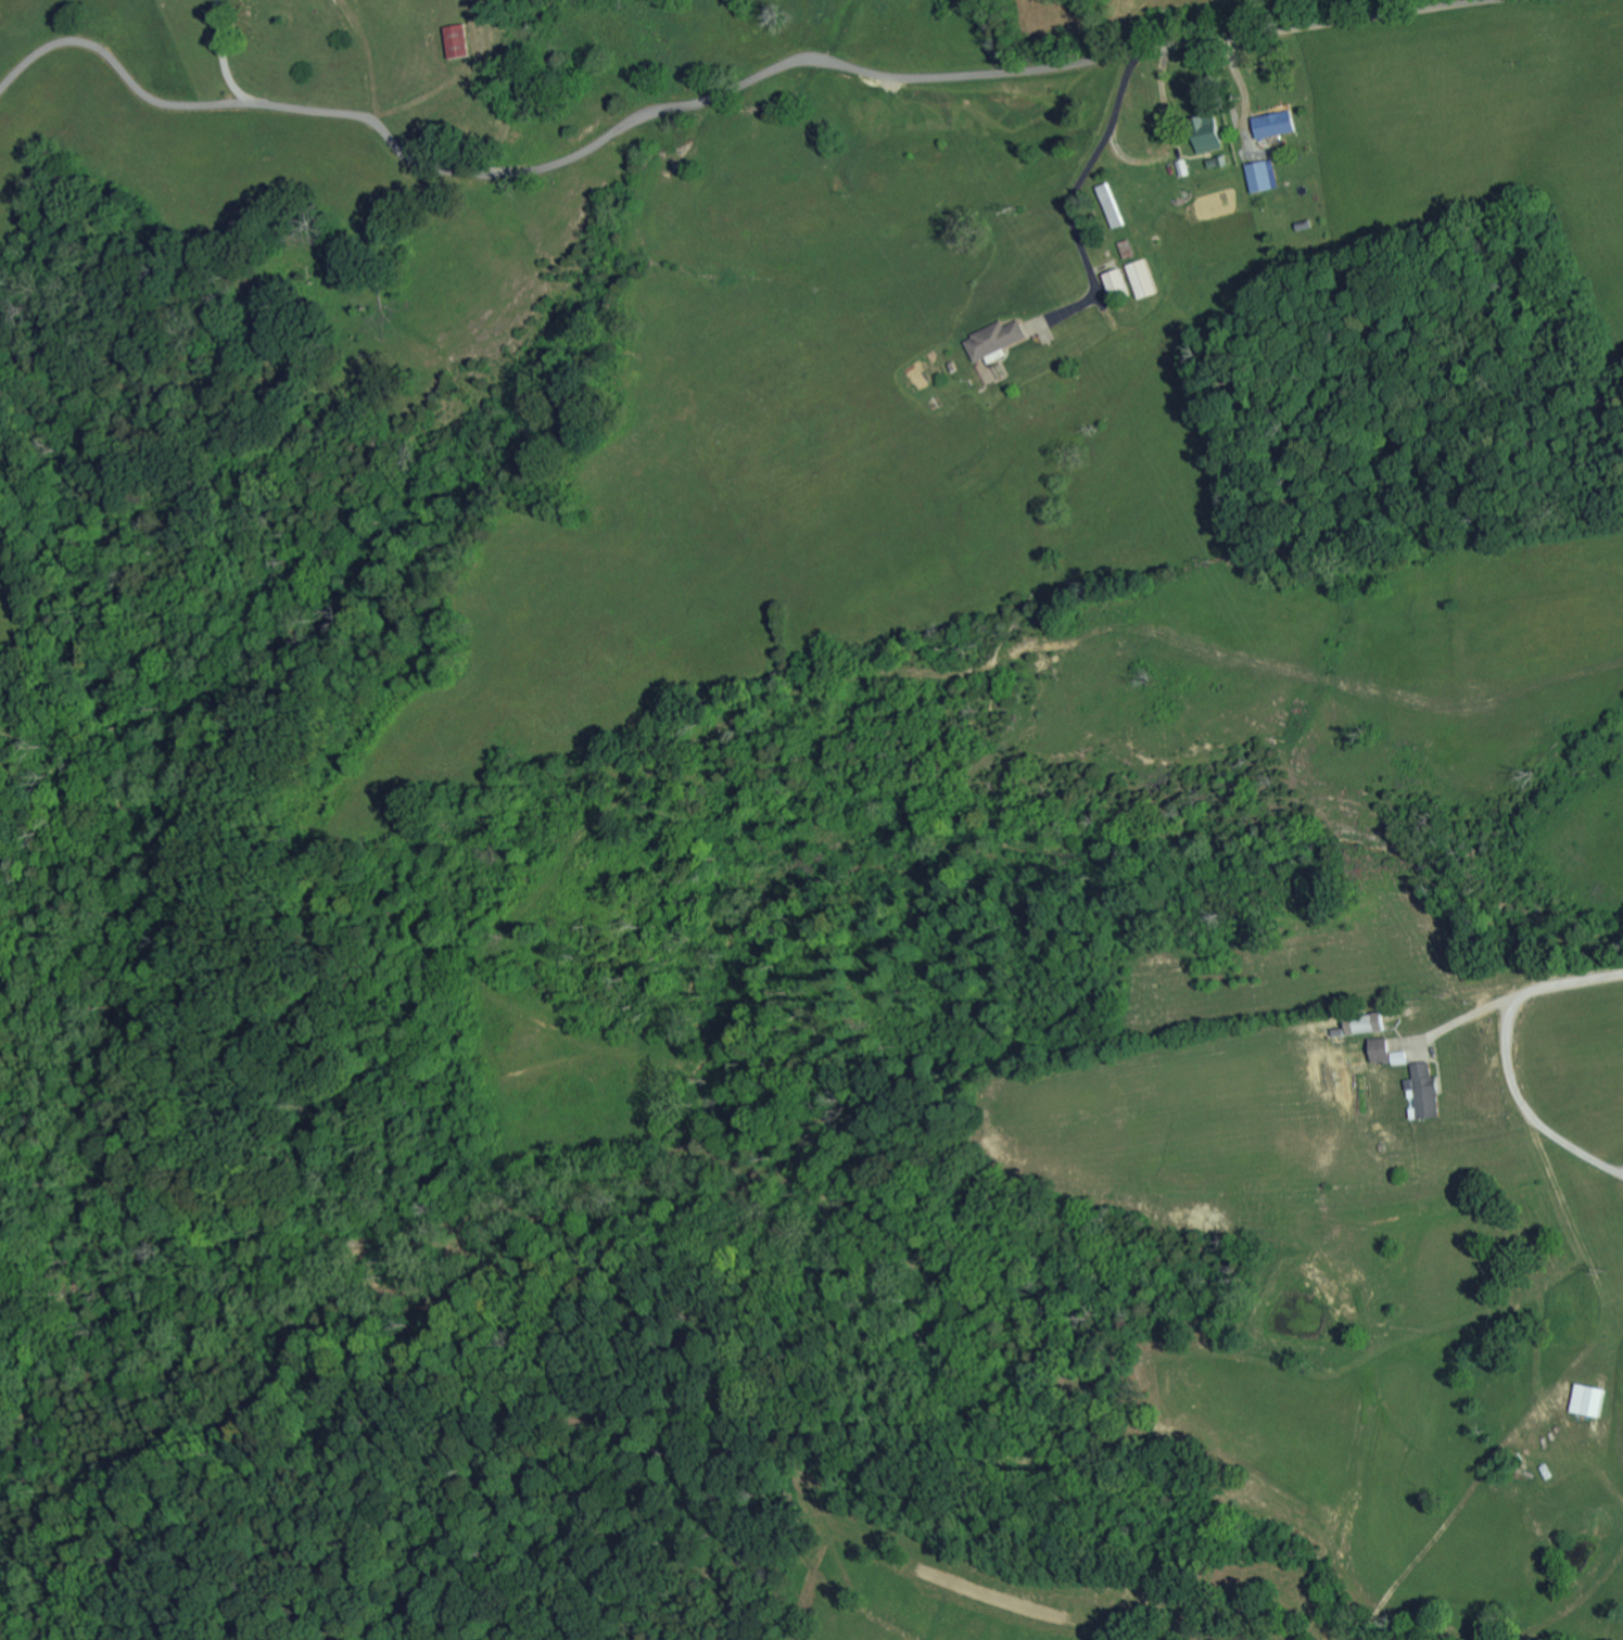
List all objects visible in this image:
building: (455, 40)
road: (223, 52)
road: (714, 97)
building: (1270, 124)
building: (1203, 132)
building: (1258, 176)
building: (1107, 204)
building: (1137, 278)
building: (1111, 281)
building: (990, 339)
building: (1361, 1024)
road: (1507, 1048)
building: (1377, 1050)
building: (1396, 1058)
building: (1421, 1091)
building: (1586, 1400)

